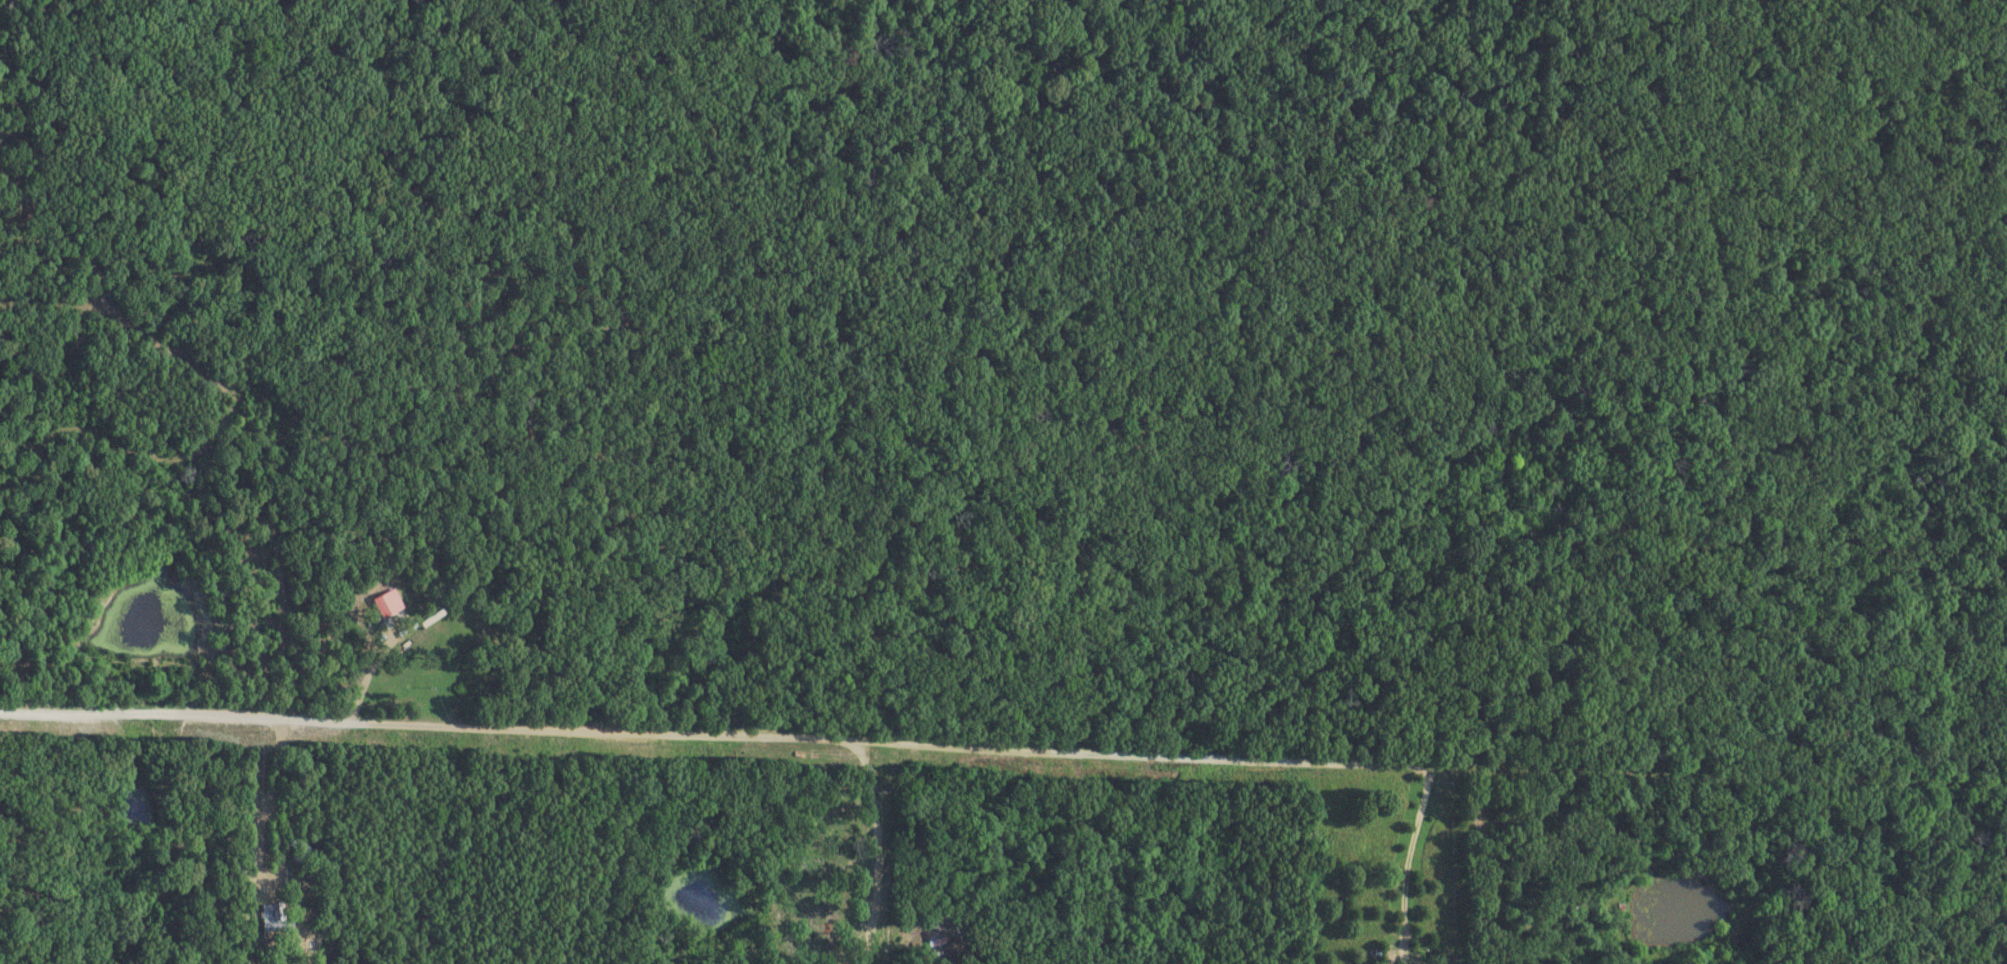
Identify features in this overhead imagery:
building: (385, 605)
road: (810, 738)
building: (300, 852)
road: (877, 852)
building: (277, 920)

